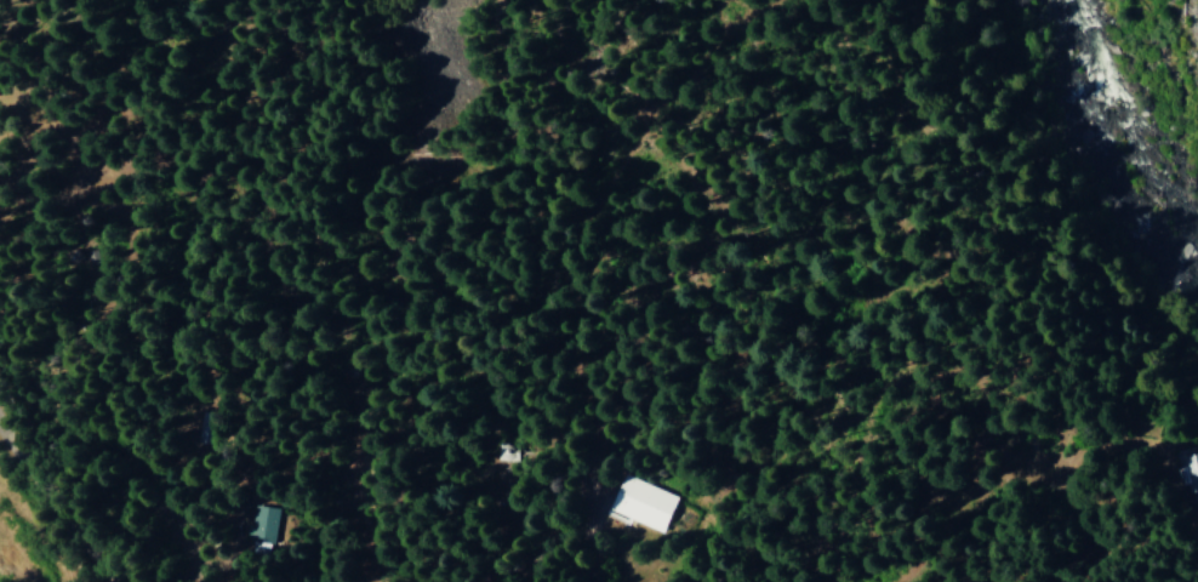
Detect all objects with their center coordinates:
river: (1107, 138)
road: (262, 280)
road: (942, 333)
building: (1187, 472)
road: (44, 491)
building: (639, 504)
building: (259, 530)

